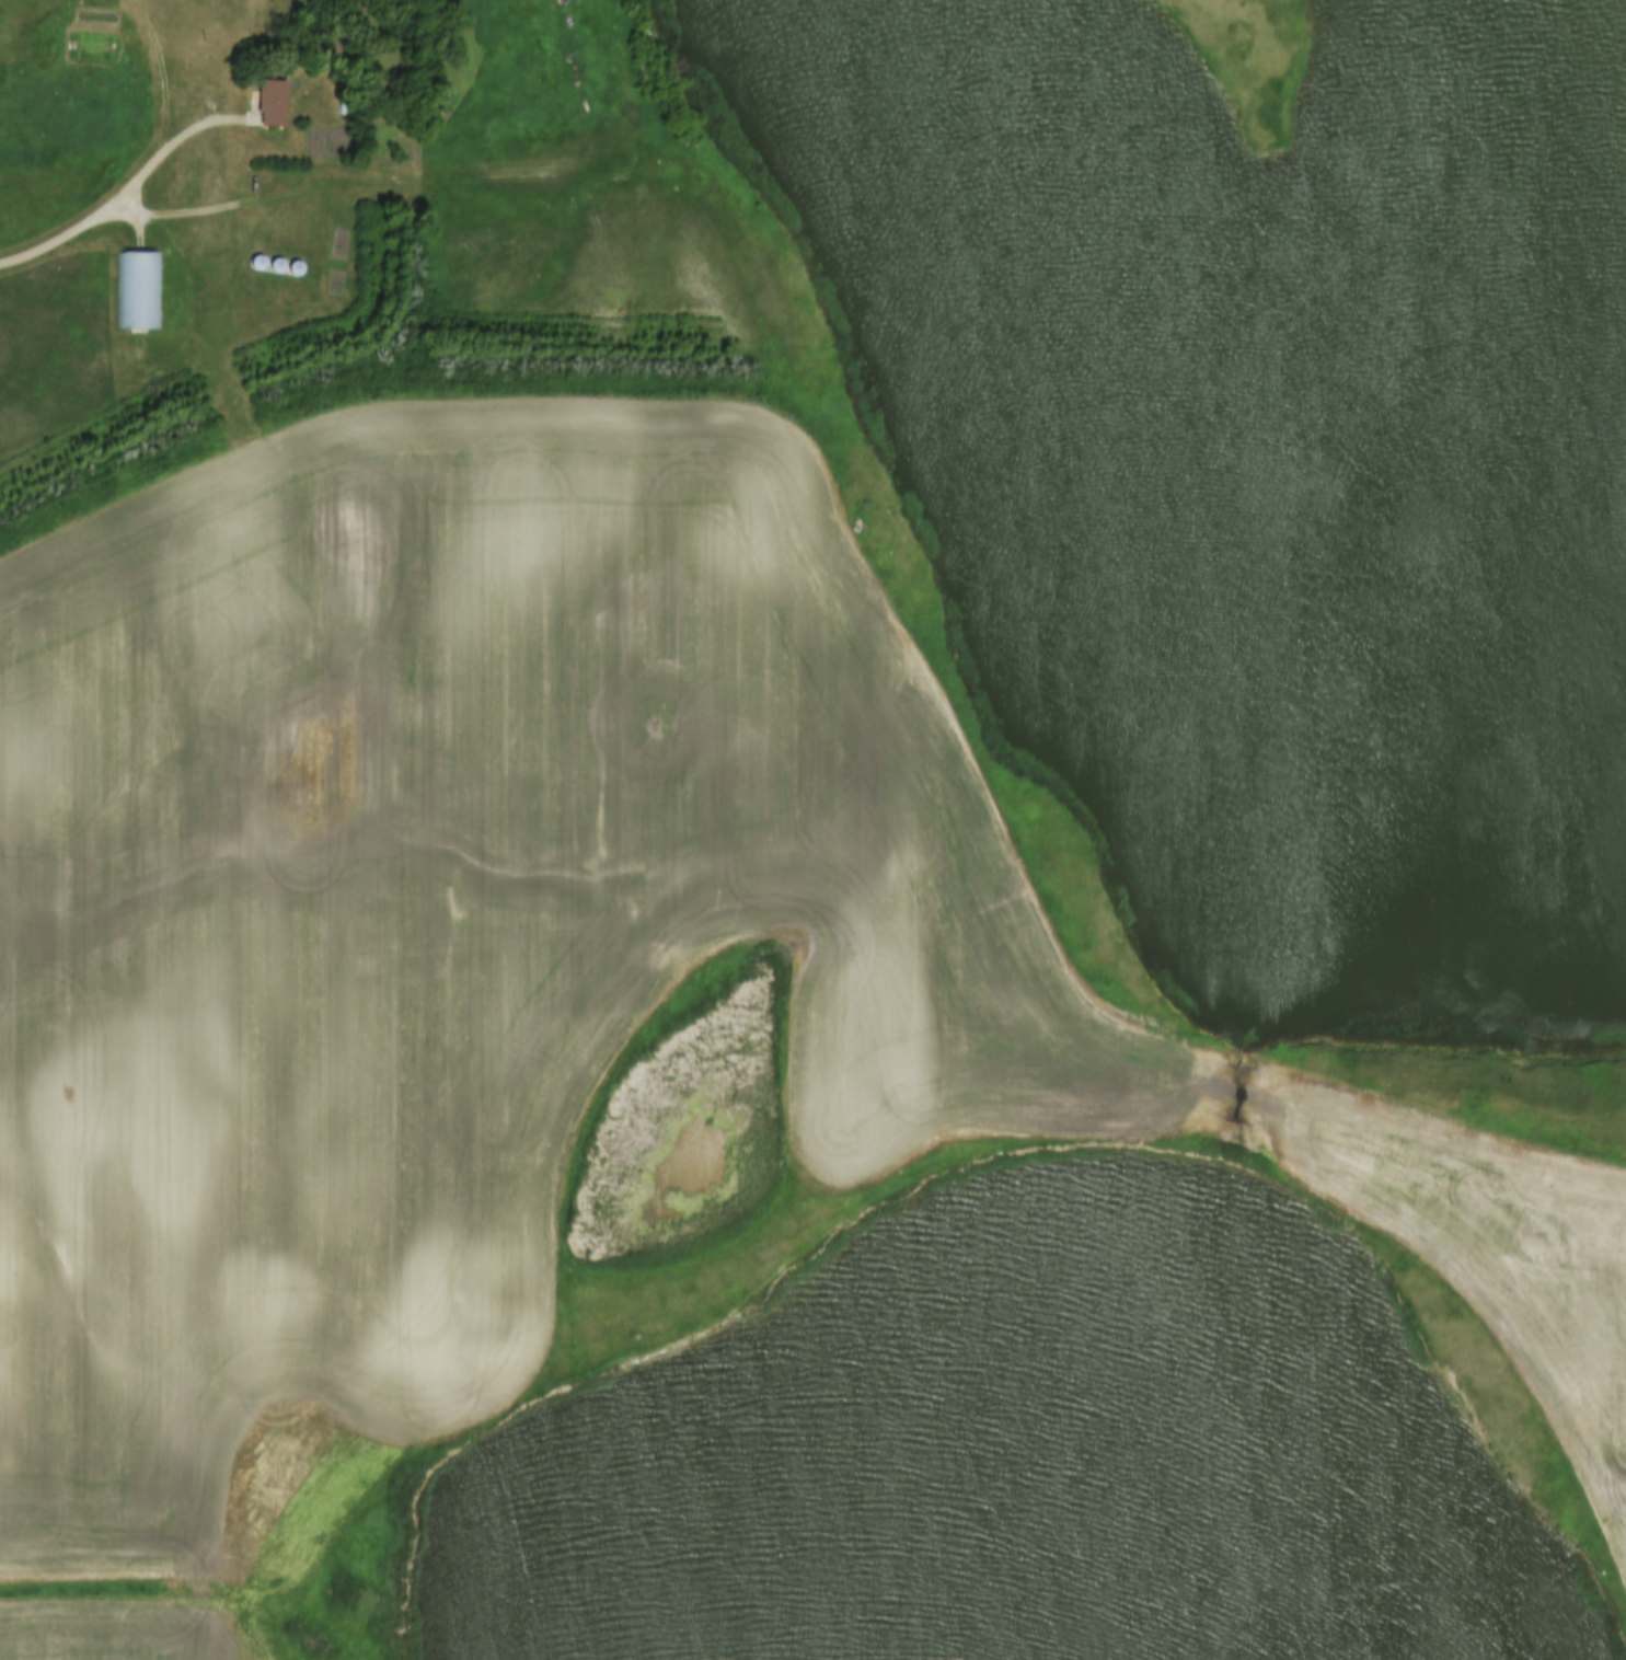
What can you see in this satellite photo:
building: (268, 103)
road: (118, 188)
building: (139, 290)

